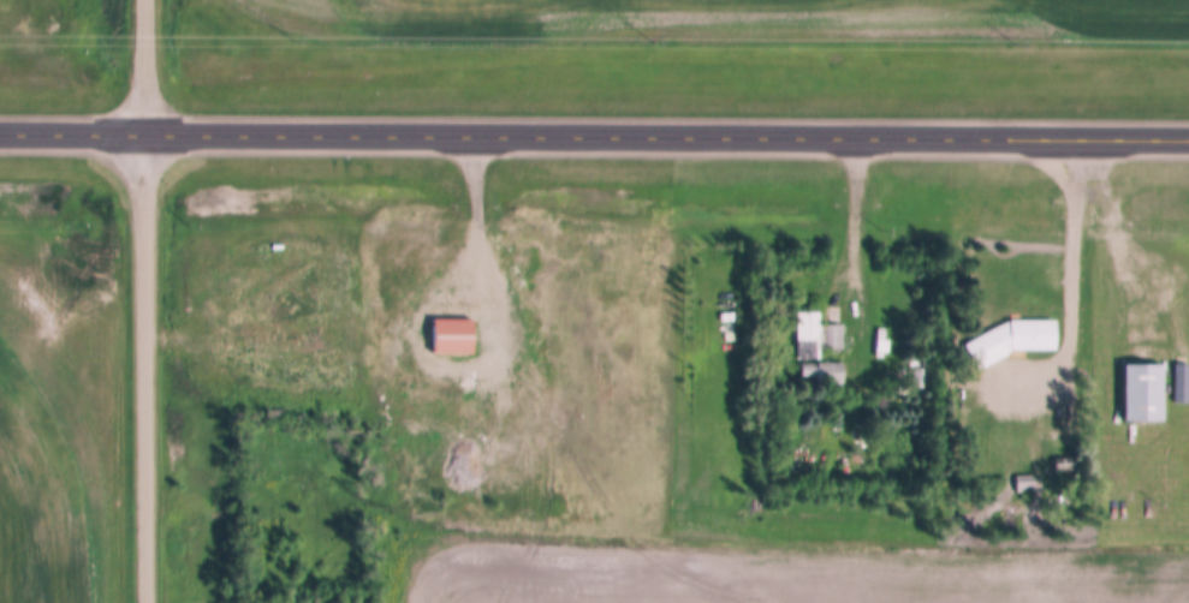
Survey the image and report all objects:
road: (594, 135)
road: (487, 241)
road: (856, 251)
road: (1125, 270)
road: (147, 301)
building: (452, 335)
building: (818, 336)
building: (1016, 341)
building: (825, 372)
building: (1147, 392)

